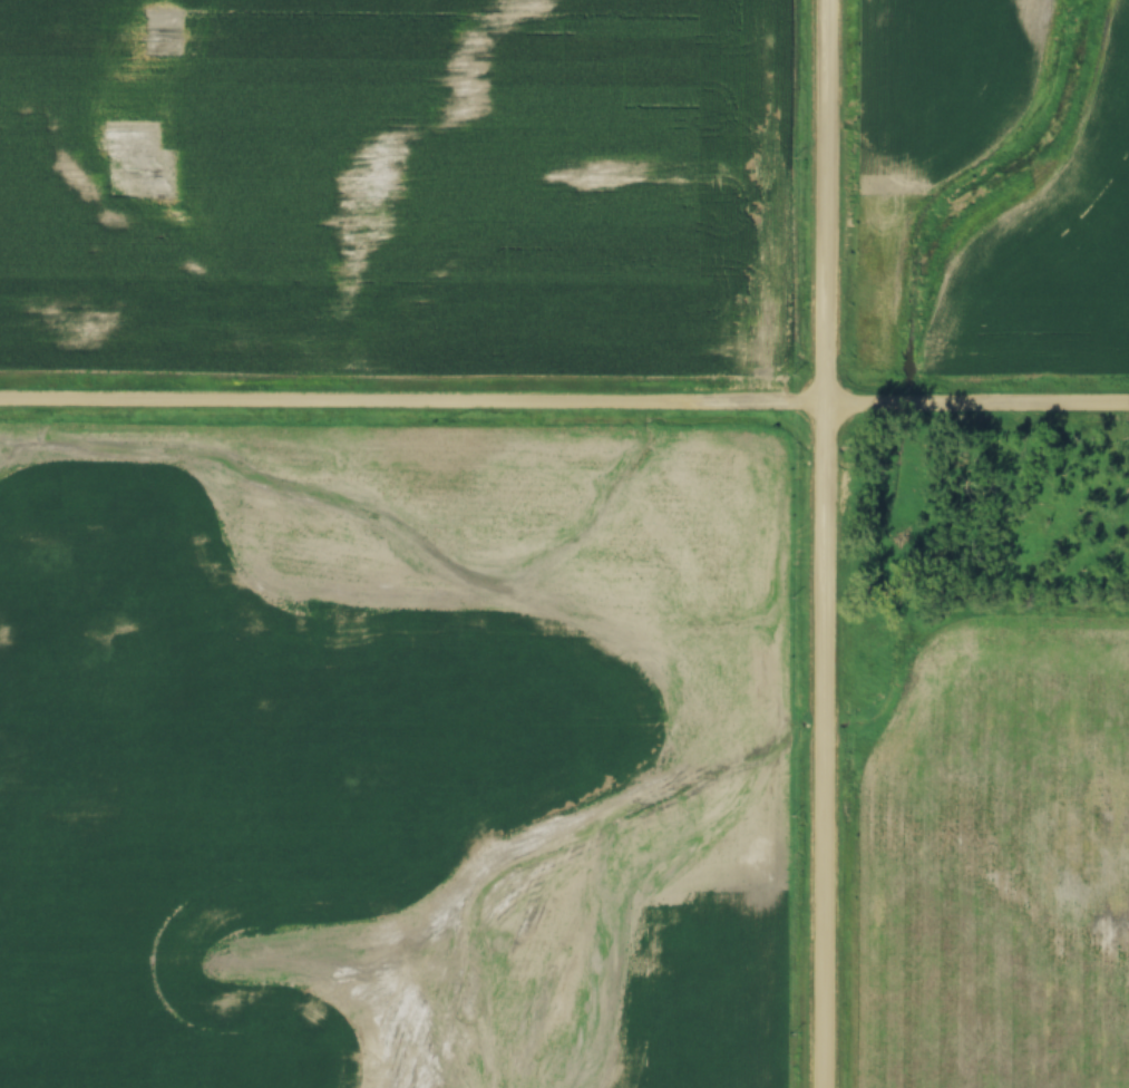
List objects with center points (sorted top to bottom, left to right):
road: (564, 397)
road: (826, 543)

